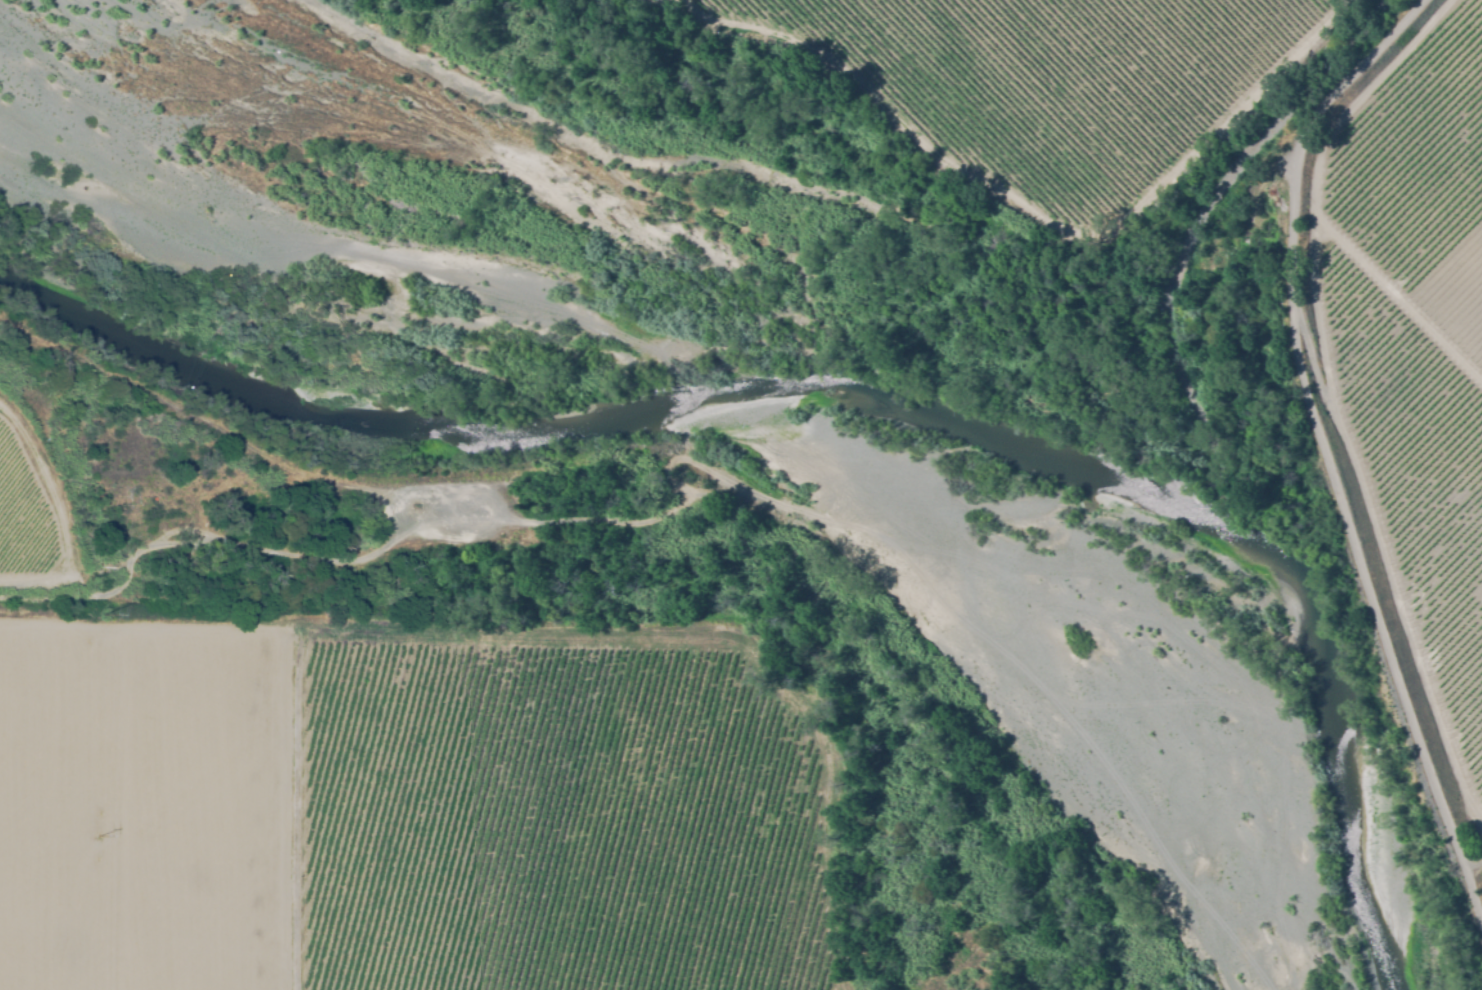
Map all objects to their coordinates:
river: (859, 393)
road: (736, 467)
road: (50, 482)
road: (36, 575)

